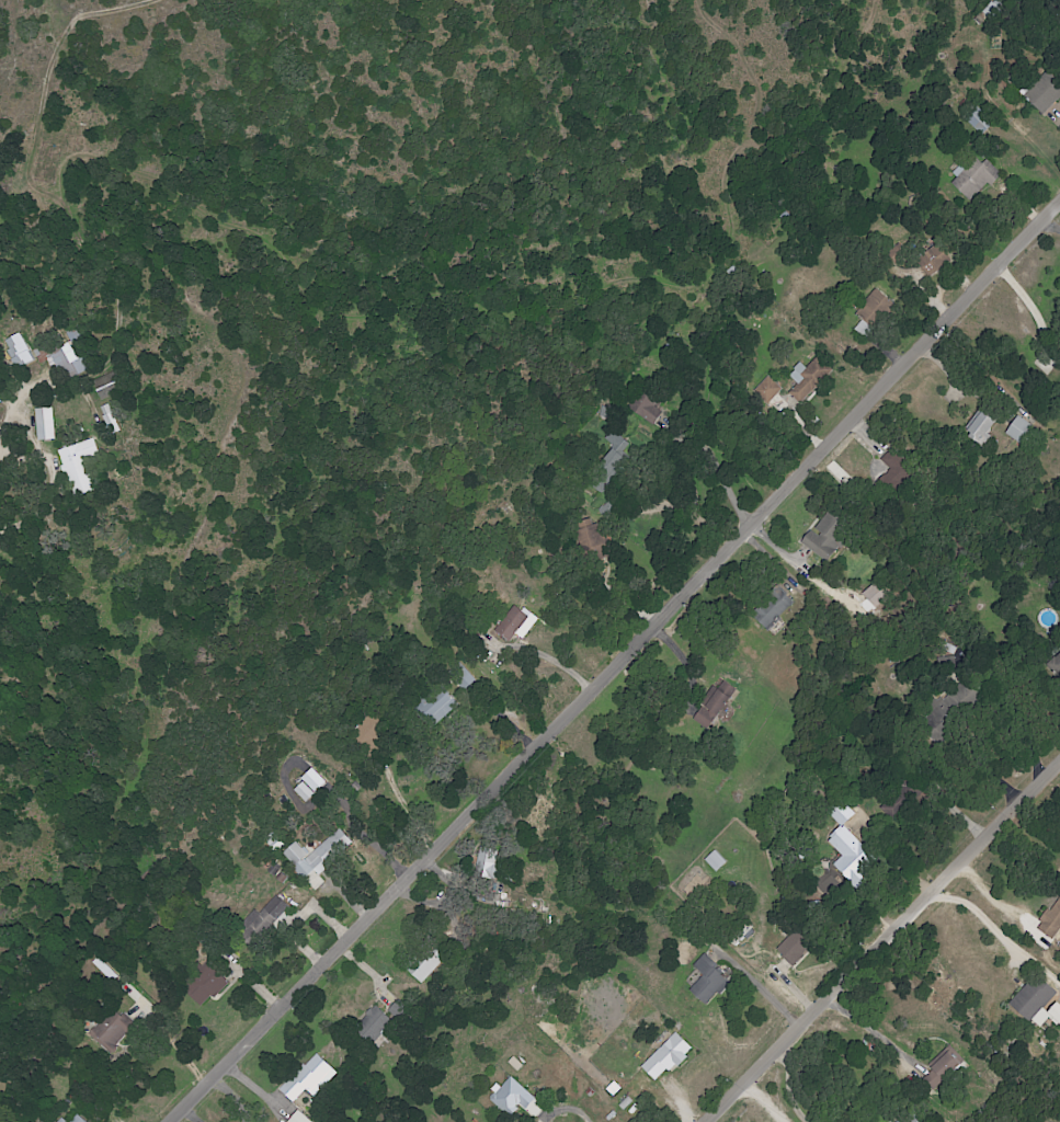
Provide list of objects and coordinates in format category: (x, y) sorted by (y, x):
building: (1041, 95)
building: (972, 178)
road: (1050, 225)
building: (932, 260)
building: (869, 307)
road: (1030, 308)
building: (18, 351)
building: (67, 360)
building: (807, 380)
building: (109, 386)
building: (766, 389)
building: (649, 409)
road: (4, 413)
building: (110, 423)
building: (44, 424)
building: (979, 428)
building: (1018, 431)
building: (77, 466)
road: (48, 480)
road: (685, 514)
building: (824, 535)
building: (593, 542)
building: (773, 608)
building: (514, 623)
road: (548, 659)
road: (614, 662)
building: (715, 703)
building: (440, 709)
road: (982, 770)
building: (308, 786)
road: (406, 811)
building: (840, 812)
building: (294, 854)
building: (323, 856)
building: (851, 857)
building: (486, 862)
building: (274, 908)
road: (974, 911)
road: (299, 918)
building: (1050, 920)
road: (880, 942)
building: (793, 948)
building: (428, 965)
building: (704, 981)
building: (203, 985)
road: (757, 987)
building: (1037, 1003)
building: (372, 1024)
road: (869, 1030)
building: (110, 1032)
road: (166, 1035)
building: (666, 1056)
building: (944, 1065)
building: (308, 1078)
road: (790, 1087)
building: (514, 1098)
road: (568, 1109)
building: (298, 1118)
building: (77, 1119)
building: (61, 1120)
building: (901, 1120)

